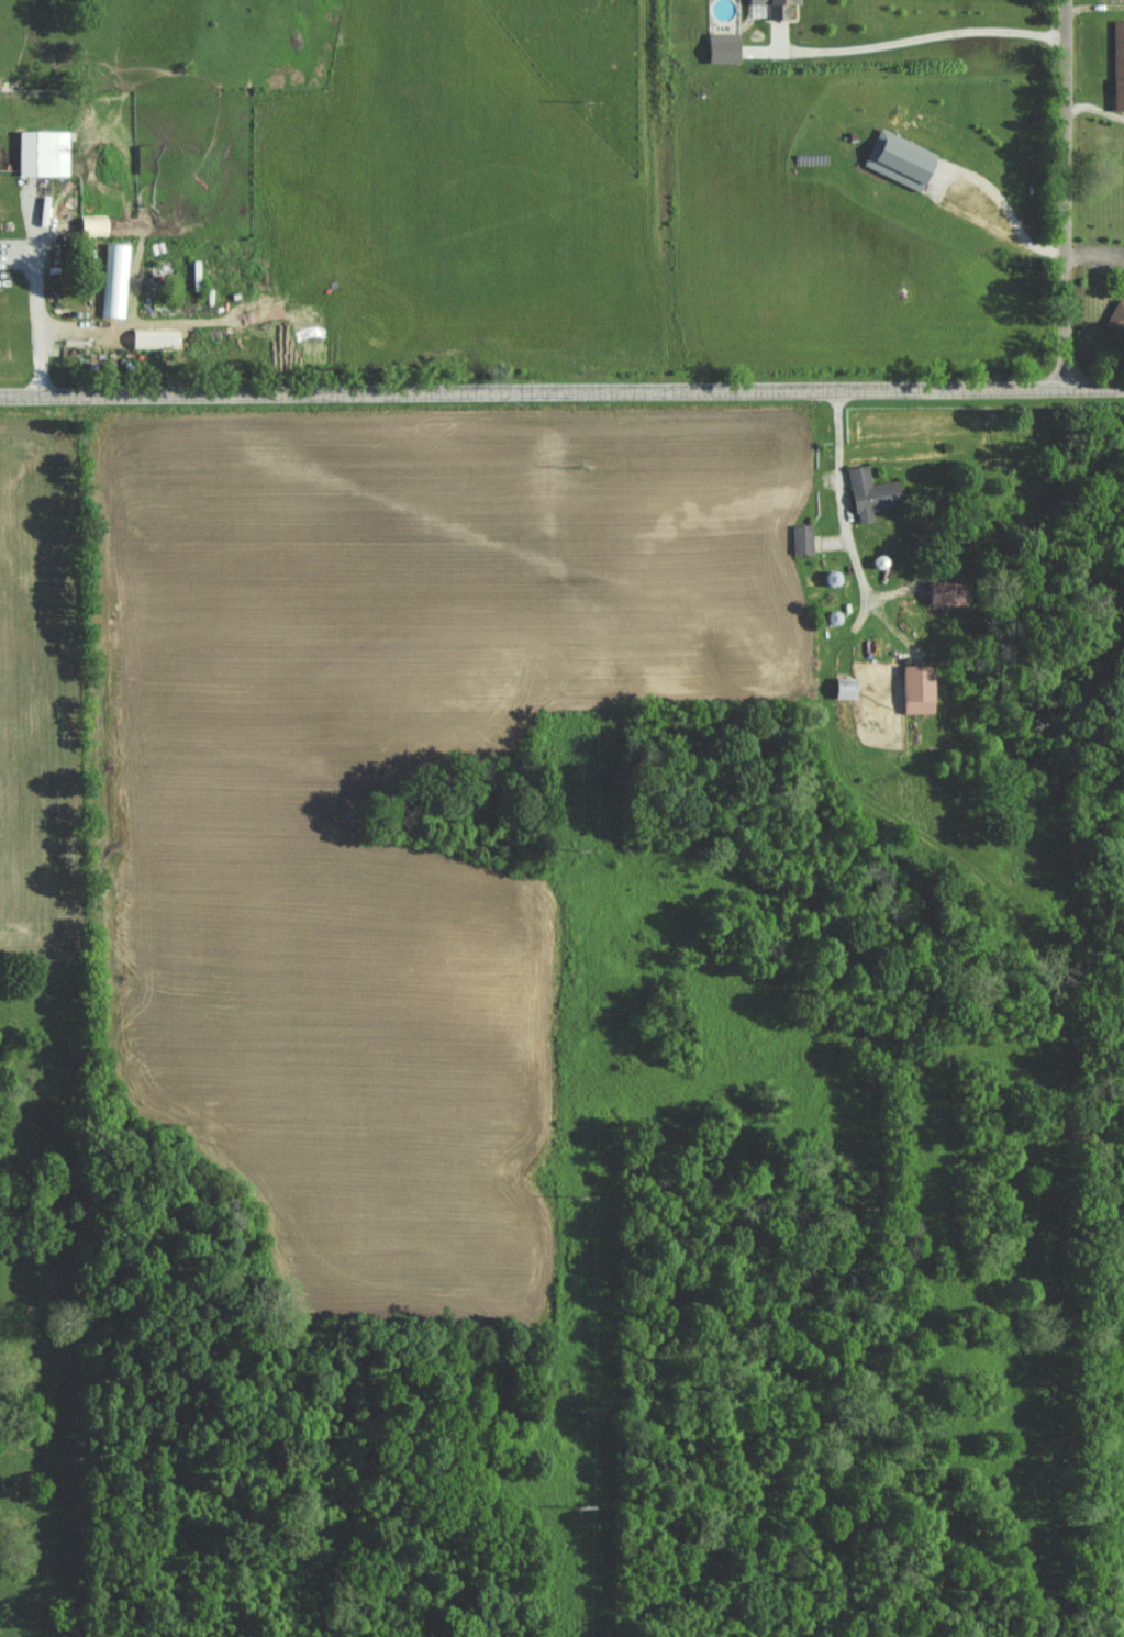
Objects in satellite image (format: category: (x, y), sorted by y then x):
building: (780, 8)
building: (726, 46)
building: (1120, 63)
building: (46, 152)
building: (903, 158)
road: (1067, 193)
road: (40, 303)
building: (1119, 318)
building: (158, 336)
road: (561, 389)
road: (843, 491)
building: (873, 492)
building: (804, 537)
building: (947, 591)
building: (849, 687)
building: (920, 688)

